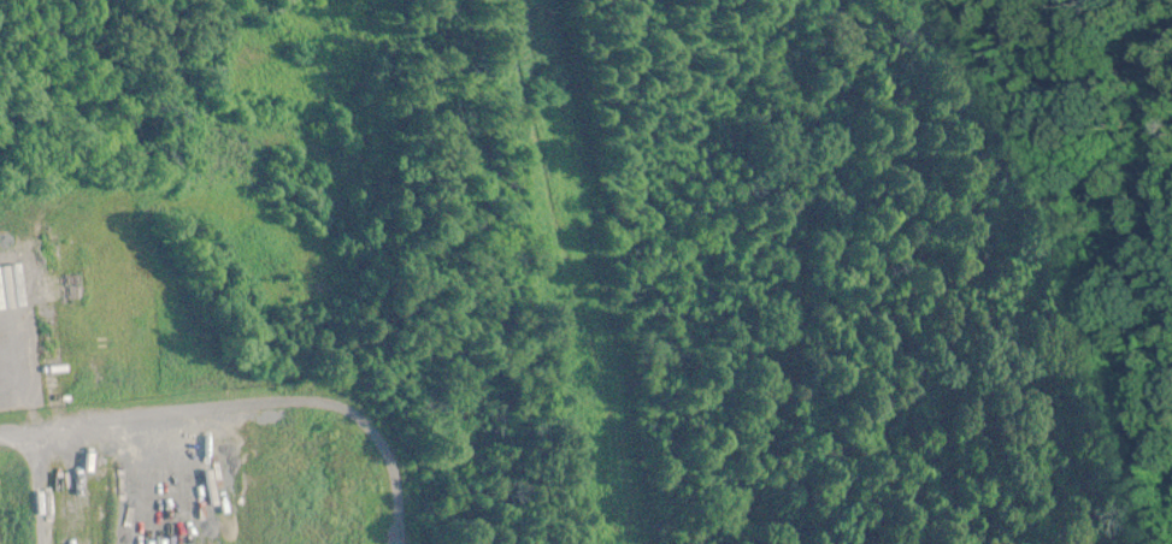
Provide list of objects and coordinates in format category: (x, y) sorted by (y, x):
building: (0, 542)

